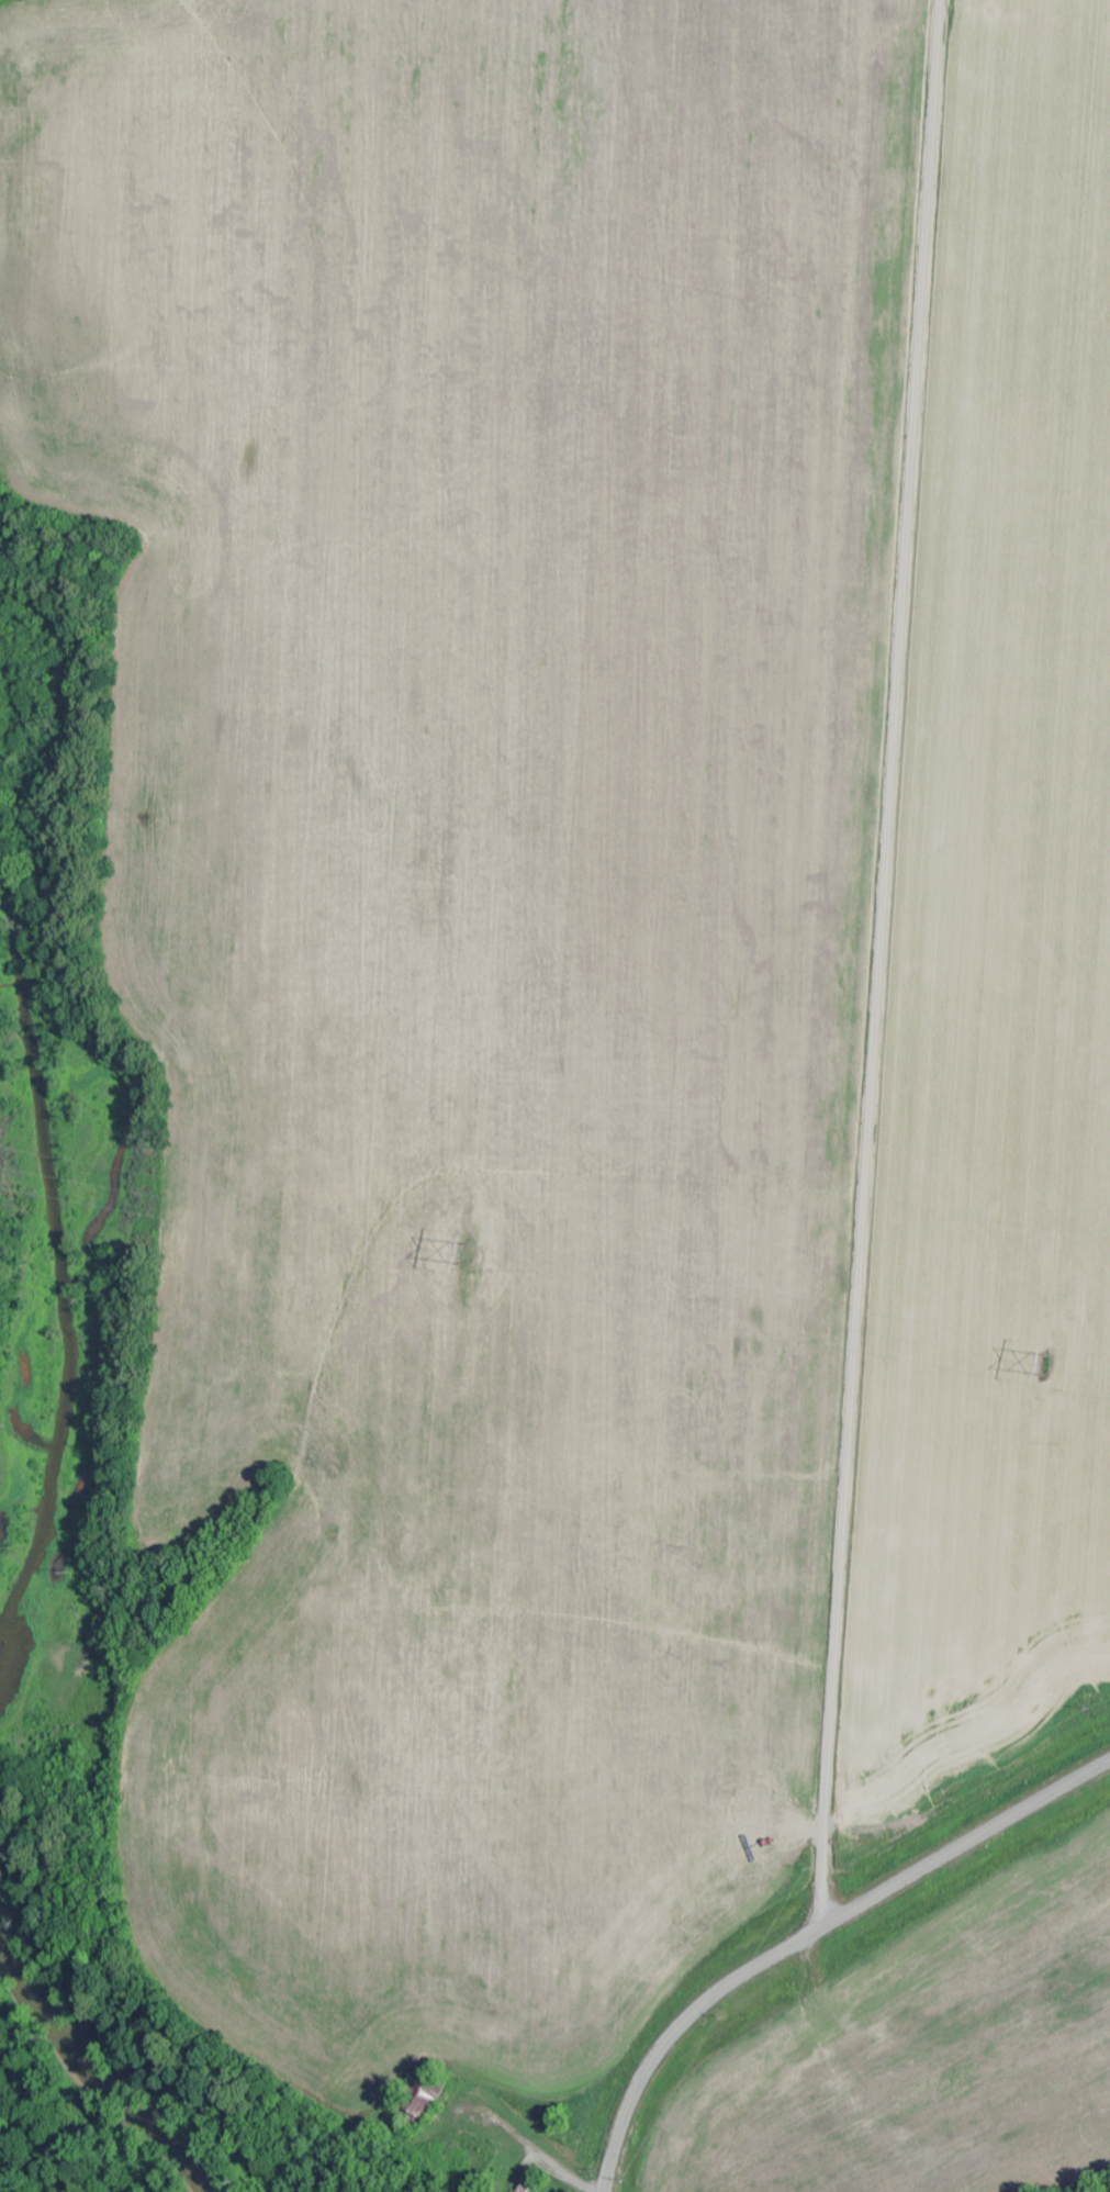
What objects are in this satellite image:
road: (879, 964)
crop: (998, 971)
power tower: (463, 1252)
power tower: (1045, 1361)
road: (810, 1933)
river: (100, 2058)

